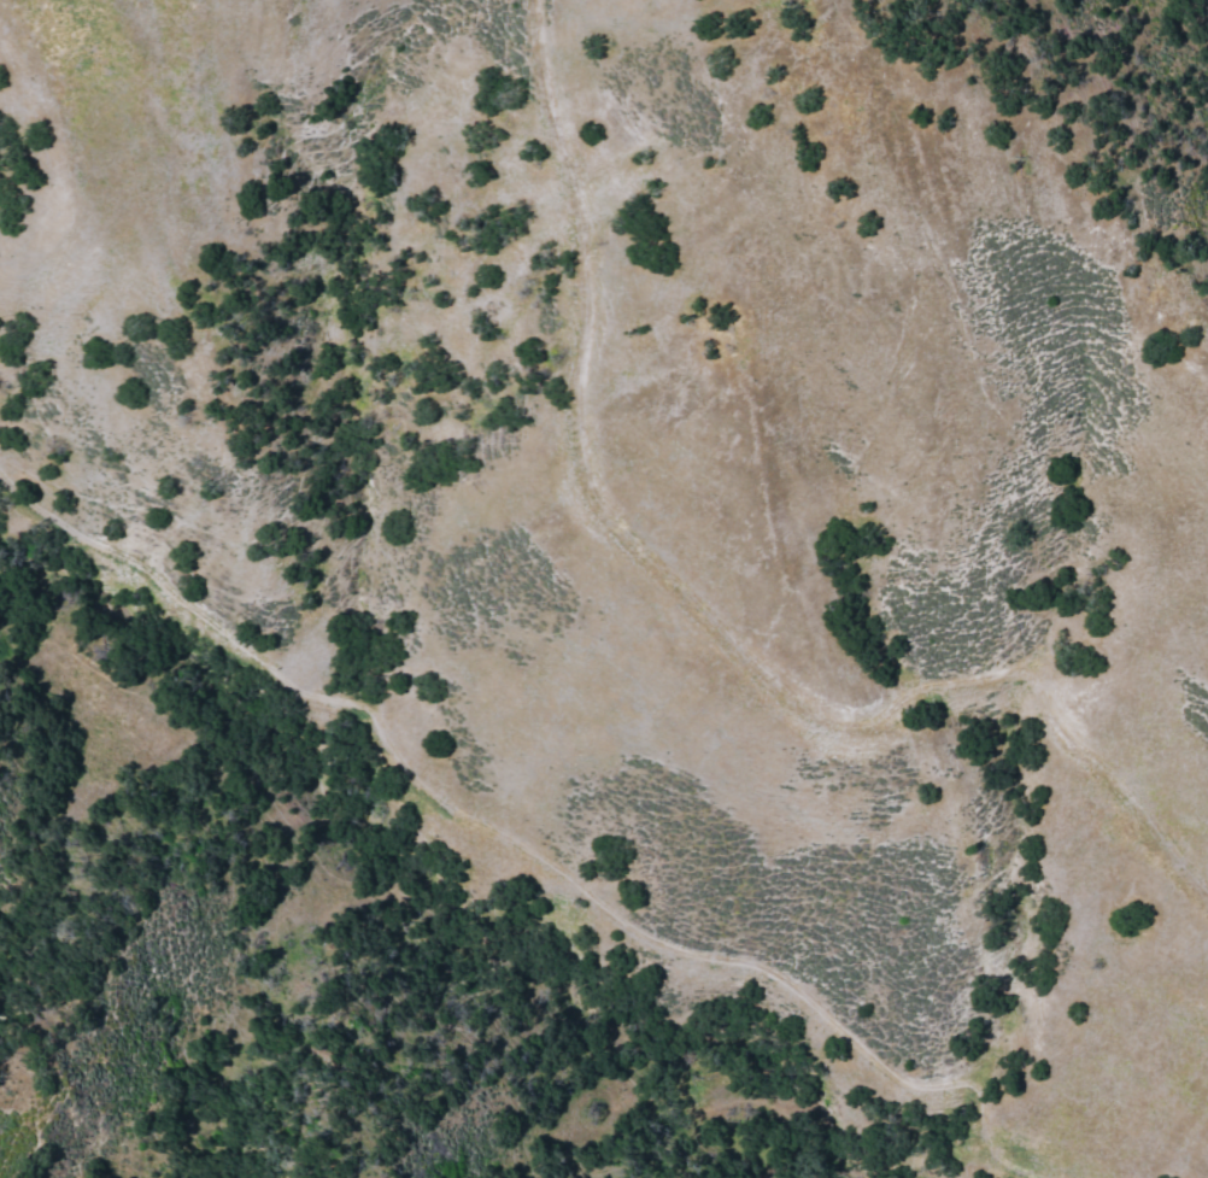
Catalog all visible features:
road: (699, 608)

